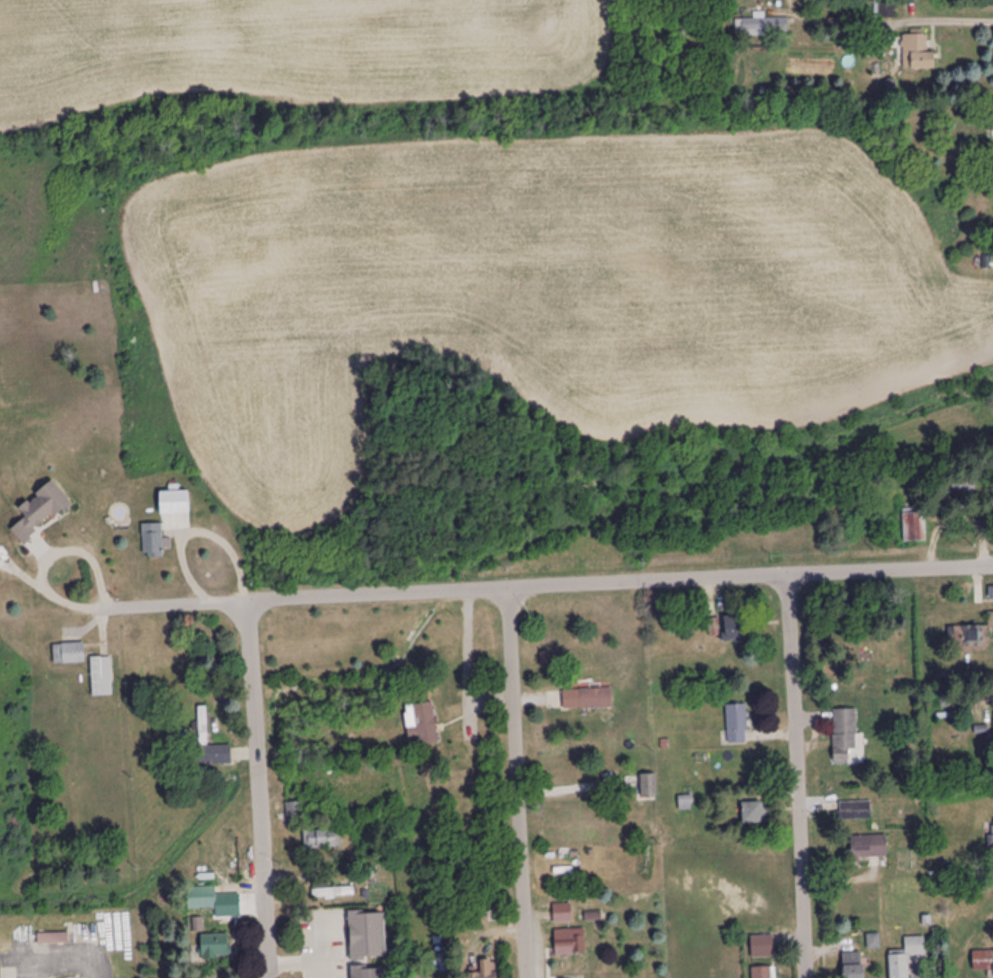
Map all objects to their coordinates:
building: (763, 26)
building: (917, 53)
building: (963, 487)
building: (174, 503)
building: (41, 511)
building: (914, 525)
building: (154, 542)
road: (49, 558)
road: (548, 583)
building: (737, 628)
building: (970, 637)
building: (69, 654)
building: (102, 677)
building: (588, 699)
building: (422, 723)
building: (737, 723)
building: (201, 727)
building: (846, 736)
road: (795, 775)
road: (518, 781)
building: (649, 786)
road: (259, 789)
building: (856, 810)
building: (296, 812)
building: (755, 812)
building: (992, 833)
building: (322, 838)
building: (868, 846)
building: (570, 886)
building: (333, 892)
building: (205, 894)
building: (233, 900)
building: (562, 914)
building: (368, 936)
building: (874, 942)
building: (570, 943)
building: (214, 946)
building: (762, 946)
building: (907, 957)
building: (983, 962)
building: (853, 965)
building: (0, 970)
building: (486, 970)
building: (764, 972)
building: (371, 973)

